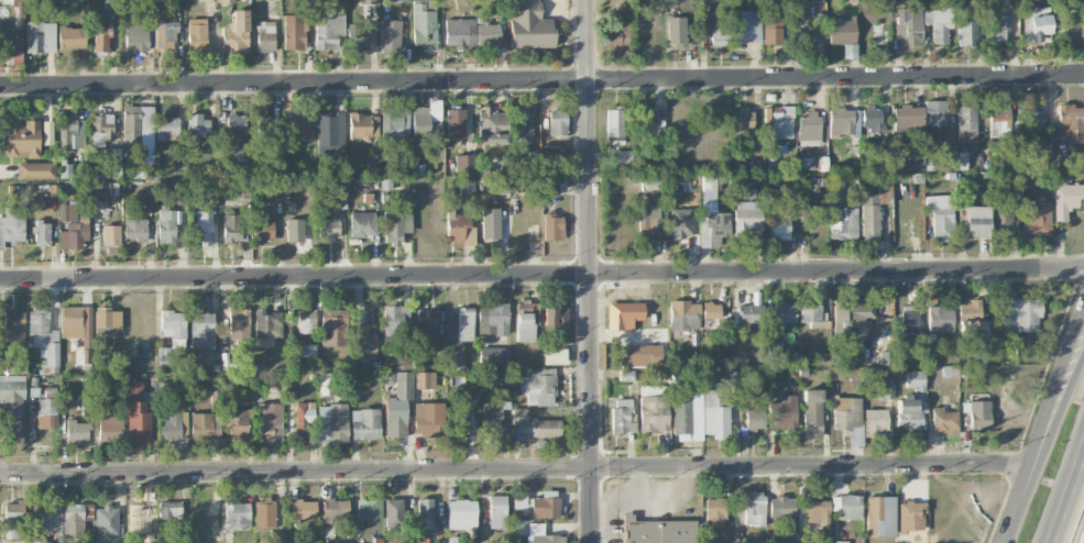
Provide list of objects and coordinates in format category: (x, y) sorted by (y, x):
building: (393, 0)
building: (226, 1)
building: (368, 1)
building: (174, 2)
building: (19, 7)
building: (939, 21)
building: (1037, 23)
building: (1070, 23)
building: (530, 25)
building: (908, 25)
building: (966, 25)
building: (423, 26)
building: (746, 26)
building: (998, 27)
building: (771, 29)
building: (329, 30)
building: (676, 30)
building: (293, 32)
building: (460, 32)
building: (841, 32)
building: (236, 33)
building: (196, 34)
building: (488, 34)
building: (164, 35)
building: (390, 35)
building: (720, 35)
building: (40, 36)
building: (264, 36)
building: (357, 36)
building: (617, 36)
building: (70, 37)
building: (101, 40)
building: (135, 40)
building: (10, 43)
road: (541, 81)
building: (935, 113)
building: (645, 118)
building: (743, 119)
building: (872, 119)
building: (1037, 120)
building: (844, 121)
building: (393, 122)
building: (426, 122)
building: (778, 122)
building: (236, 123)
building: (455, 123)
building: (557, 123)
building: (966, 123)
building: (998, 123)
building: (1070, 123)
building: (265, 124)
building: (524, 124)
building: (359, 125)
building: (197, 126)
building: (297, 126)
building: (492, 126)
building: (614, 126)
building: (809, 126)
building: (166, 128)
building: (101, 129)
building: (47, 132)
building: (139, 132)
building: (329, 132)
building: (70, 133)
building: (22, 138)
building: (242, 155)
building: (620, 157)
building: (911, 160)
building: (943, 162)
building: (464, 163)
building: (806, 163)
building: (107, 164)
building: (554, 165)
building: (35, 170)
building: (648, 182)
building: (385, 184)
building: (496, 185)
building: (467, 187)
building: (549, 188)
building: (708, 190)
building: (744, 190)
building: (339, 193)
building: (1065, 199)
building: (875, 208)
building: (817, 213)
building: (941, 215)
building: (1000, 215)
building: (747, 217)
building: (1036, 219)
building: (975, 221)
building: (647, 222)
building: (490, 223)
building: (680, 223)
building: (843, 223)
building: (362, 224)
building: (165, 225)
building: (396, 225)
building: (456, 225)
building: (11, 226)
building: (72, 226)
building: (552, 226)
building: (200, 228)
building: (231, 228)
building: (328, 228)
building: (712, 228)
building: (778, 228)
building: (135, 229)
building: (294, 230)
building: (263, 231)
building: (42, 233)
building: (110, 235)
road: (590, 270)
road: (541, 275)
building: (784, 313)
building: (809, 313)
building: (624, 314)
building: (711, 314)
building: (1019, 314)
building: (748, 315)
building: (847, 315)
building: (683, 318)
building: (556, 319)
building: (909, 319)
building: (107, 320)
building: (305, 320)
building: (492, 320)
building: (940, 320)
building: (972, 320)
building: (70, 322)
building: (238, 323)
building: (267, 323)
building: (466, 323)
building: (523, 323)
building: (396, 324)
building: (12, 326)
building: (332, 326)
building: (174, 328)
building: (201, 330)
building: (426, 331)
building: (43, 339)
building: (363, 343)
building: (775, 347)
building: (308, 351)
building: (493, 355)
building: (640, 355)
building: (981, 355)
building: (164, 356)
building: (554, 356)
building: (456, 362)
building: (425, 380)
building: (327, 386)
building: (538, 387)
building: (133, 388)
building: (884, 388)
building: (101, 392)
building: (912, 402)
building: (398, 406)
building: (11, 407)
building: (491, 412)
building: (781, 412)
road: (1059, 412)
building: (46, 413)
building: (654, 413)
building: (811, 413)
building: (687, 414)
building: (303, 415)
building: (623, 415)
building: (714, 415)
building: (978, 415)
building: (847, 418)
building: (427, 419)
building: (754, 419)
building: (237, 421)
building: (269, 421)
building: (944, 421)
building: (875, 422)
building: (139, 423)
building: (332, 423)
building: (461, 423)
road: (1040, 423)
building: (364, 424)
building: (518, 424)
building: (173, 426)
building: (204, 426)
building: (544, 428)
building: (110, 429)
building: (77, 431)
road: (513, 469)
road: (1066, 492)
building: (545, 506)
building: (781, 507)
building: (848, 507)
building: (754, 508)
building: (303, 509)
building: (169, 510)
building: (369, 510)
building: (335, 511)
building: (393, 511)
building: (497, 511)
building: (817, 511)
building: (714, 512)
building: (425, 513)
building: (264, 514)
building: (461, 514)
building: (237, 516)
building: (880, 516)
building: (910, 517)
building: (42, 519)
building: (76, 519)
building: (12, 520)
building: (106, 523)
building: (659, 531)
building: (277, 538)
building: (547, 539)
building: (841, 542)

